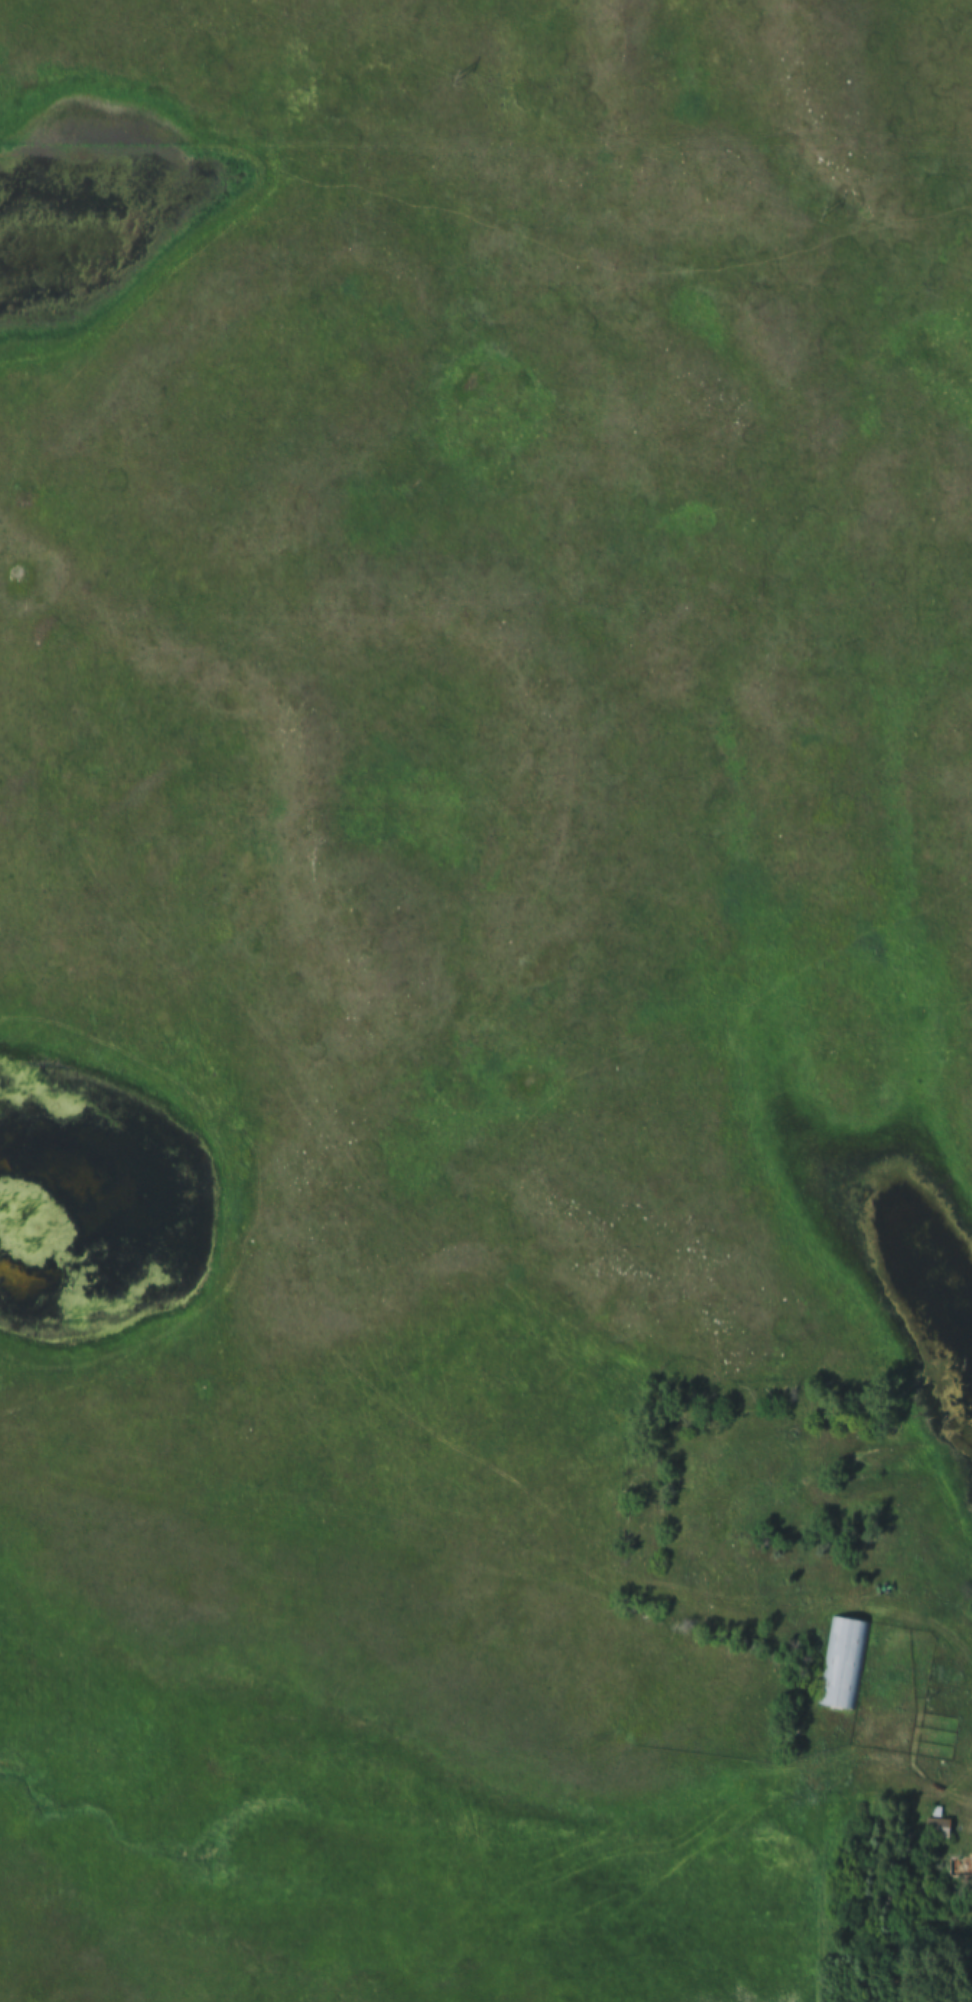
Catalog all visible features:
building: (842, 1662)
building: (896, 1731)
building: (941, 1828)
building: (960, 1866)

